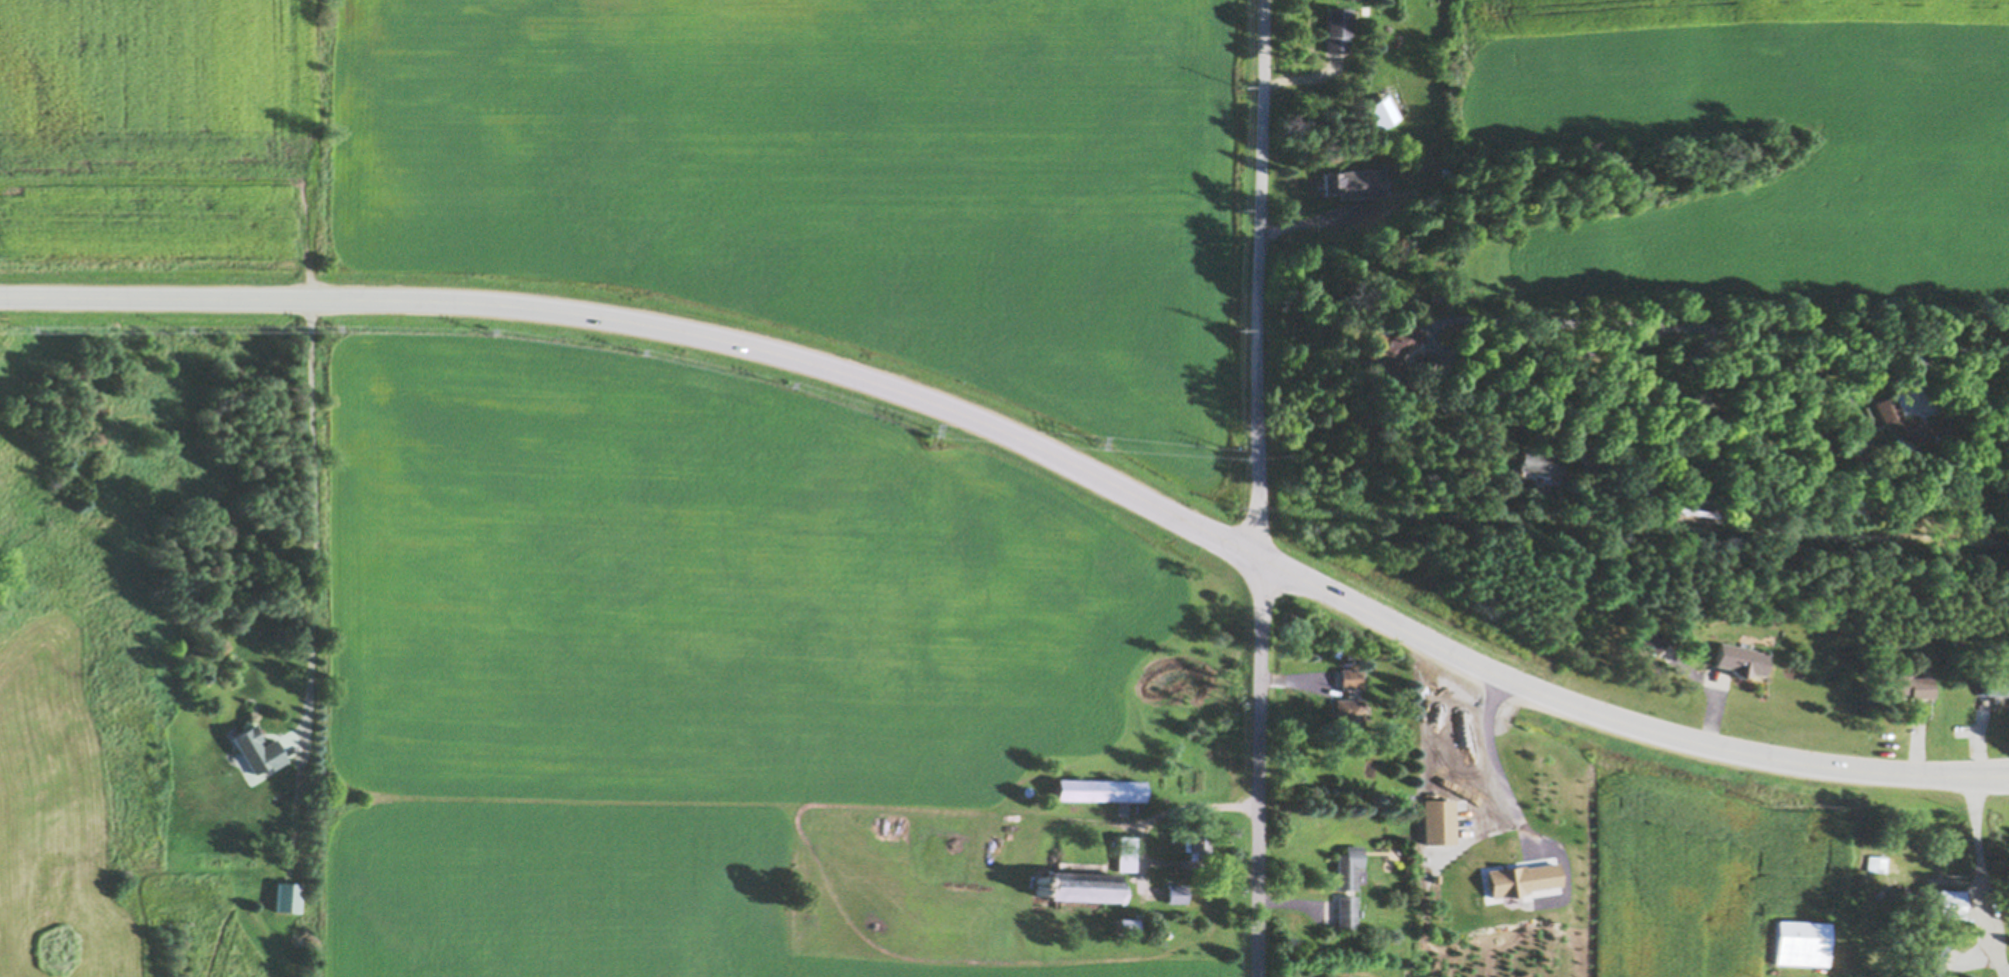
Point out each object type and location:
building: (1337, 28)
building: (1384, 111)
building: (1375, 171)
building: (1335, 180)
road: (1260, 275)
road: (1746, 329)
building: (1393, 351)
building: (1425, 363)
road: (1587, 408)
building: (1912, 424)
building: (1851, 437)
road: (1028, 444)
building: (1852, 448)
building: (1589, 455)
building: (1651, 455)
building: (1538, 463)
building: (1695, 497)
building: (1667, 503)
road: (311, 521)
building: (1655, 638)
building: (1741, 658)
building: (1350, 677)
building: (1895, 681)
building: (1997, 684)
building: (1350, 714)
building: (256, 750)
road: (1258, 763)
road: (1501, 764)
building: (1024, 789)
building: (1101, 789)
building: (1406, 799)
building: (1140, 807)
road: (1141, 840)
building: (1195, 843)
building: (1124, 854)
building: (1877, 862)
building: (1347, 867)
road: (1985, 878)
building: (1041, 880)
building: (1085, 888)
building: (1040, 890)
building: (1177, 893)
building: (288, 897)
building: (1897, 898)
building: (1917, 899)
building: (1949, 905)
building: (1345, 912)
building: (1125, 926)
building: (1141, 928)
building: (1064, 938)
building: (1801, 943)
building: (1930, 959)
building: (1408, 962)

